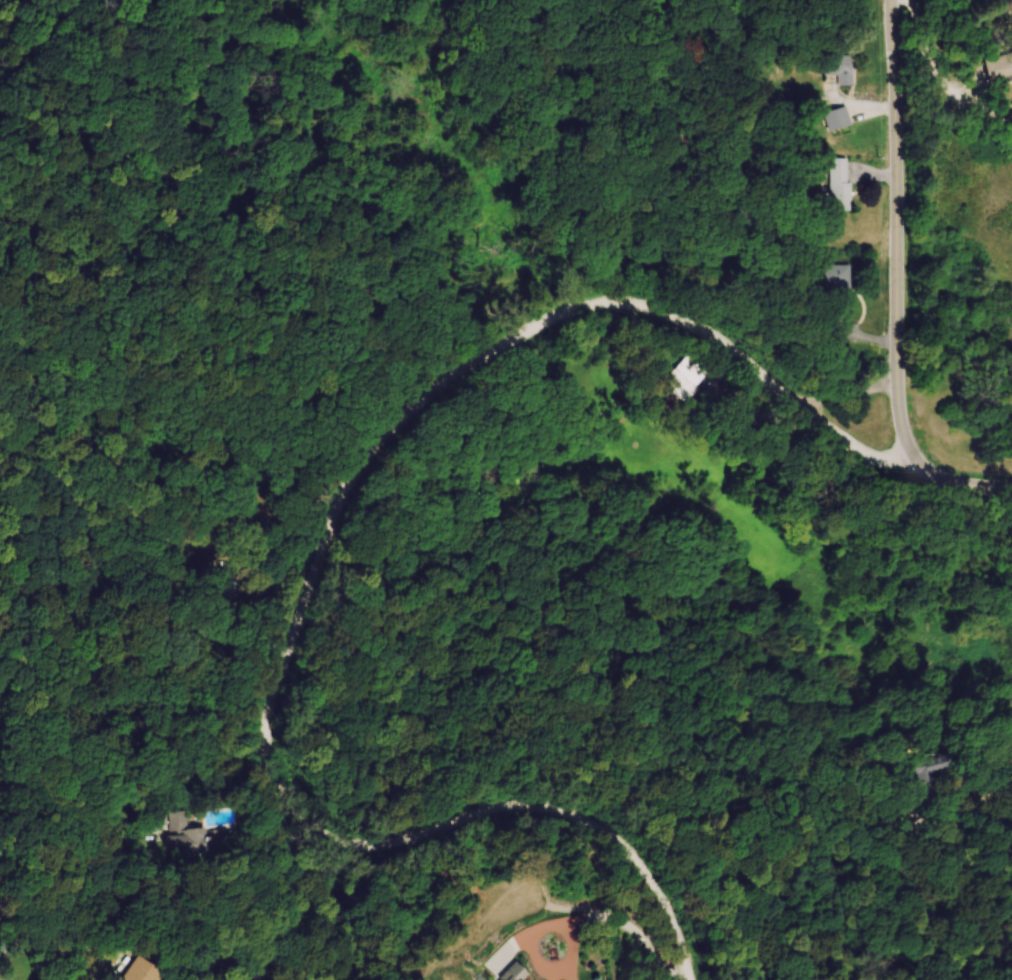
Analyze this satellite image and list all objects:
road: (928, 60)
building: (841, 68)
building: (1002, 69)
building: (840, 184)
road: (896, 240)
building: (838, 287)
building: (690, 380)
road: (968, 484)
building: (261, 531)
road: (329, 561)
road: (151, 790)
road: (991, 795)
building: (191, 843)
road: (545, 923)
road: (630, 928)
road: (42, 945)
road: (566, 971)
building: (518, 974)

